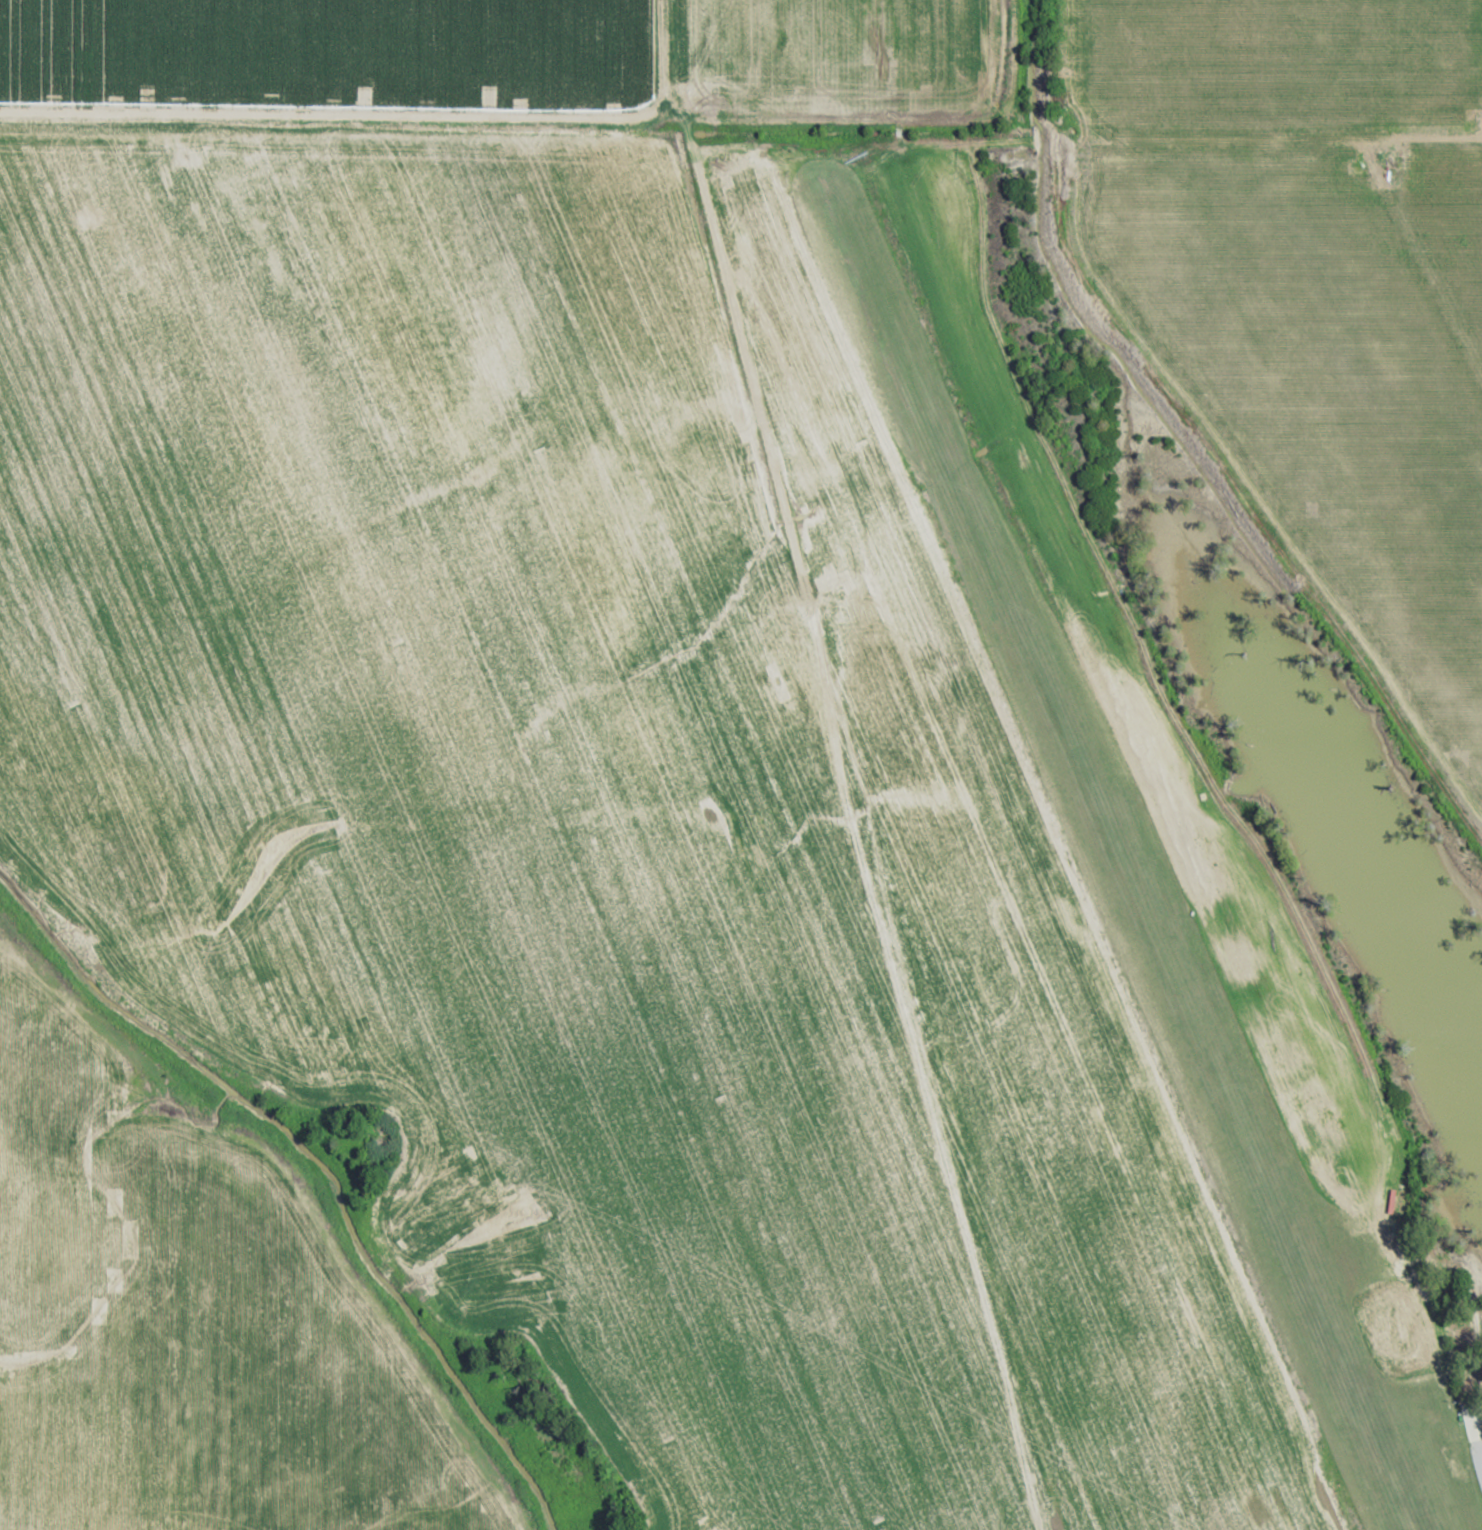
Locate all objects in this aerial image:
road: (658, 62)
road: (741, 127)
road: (869, 827)

